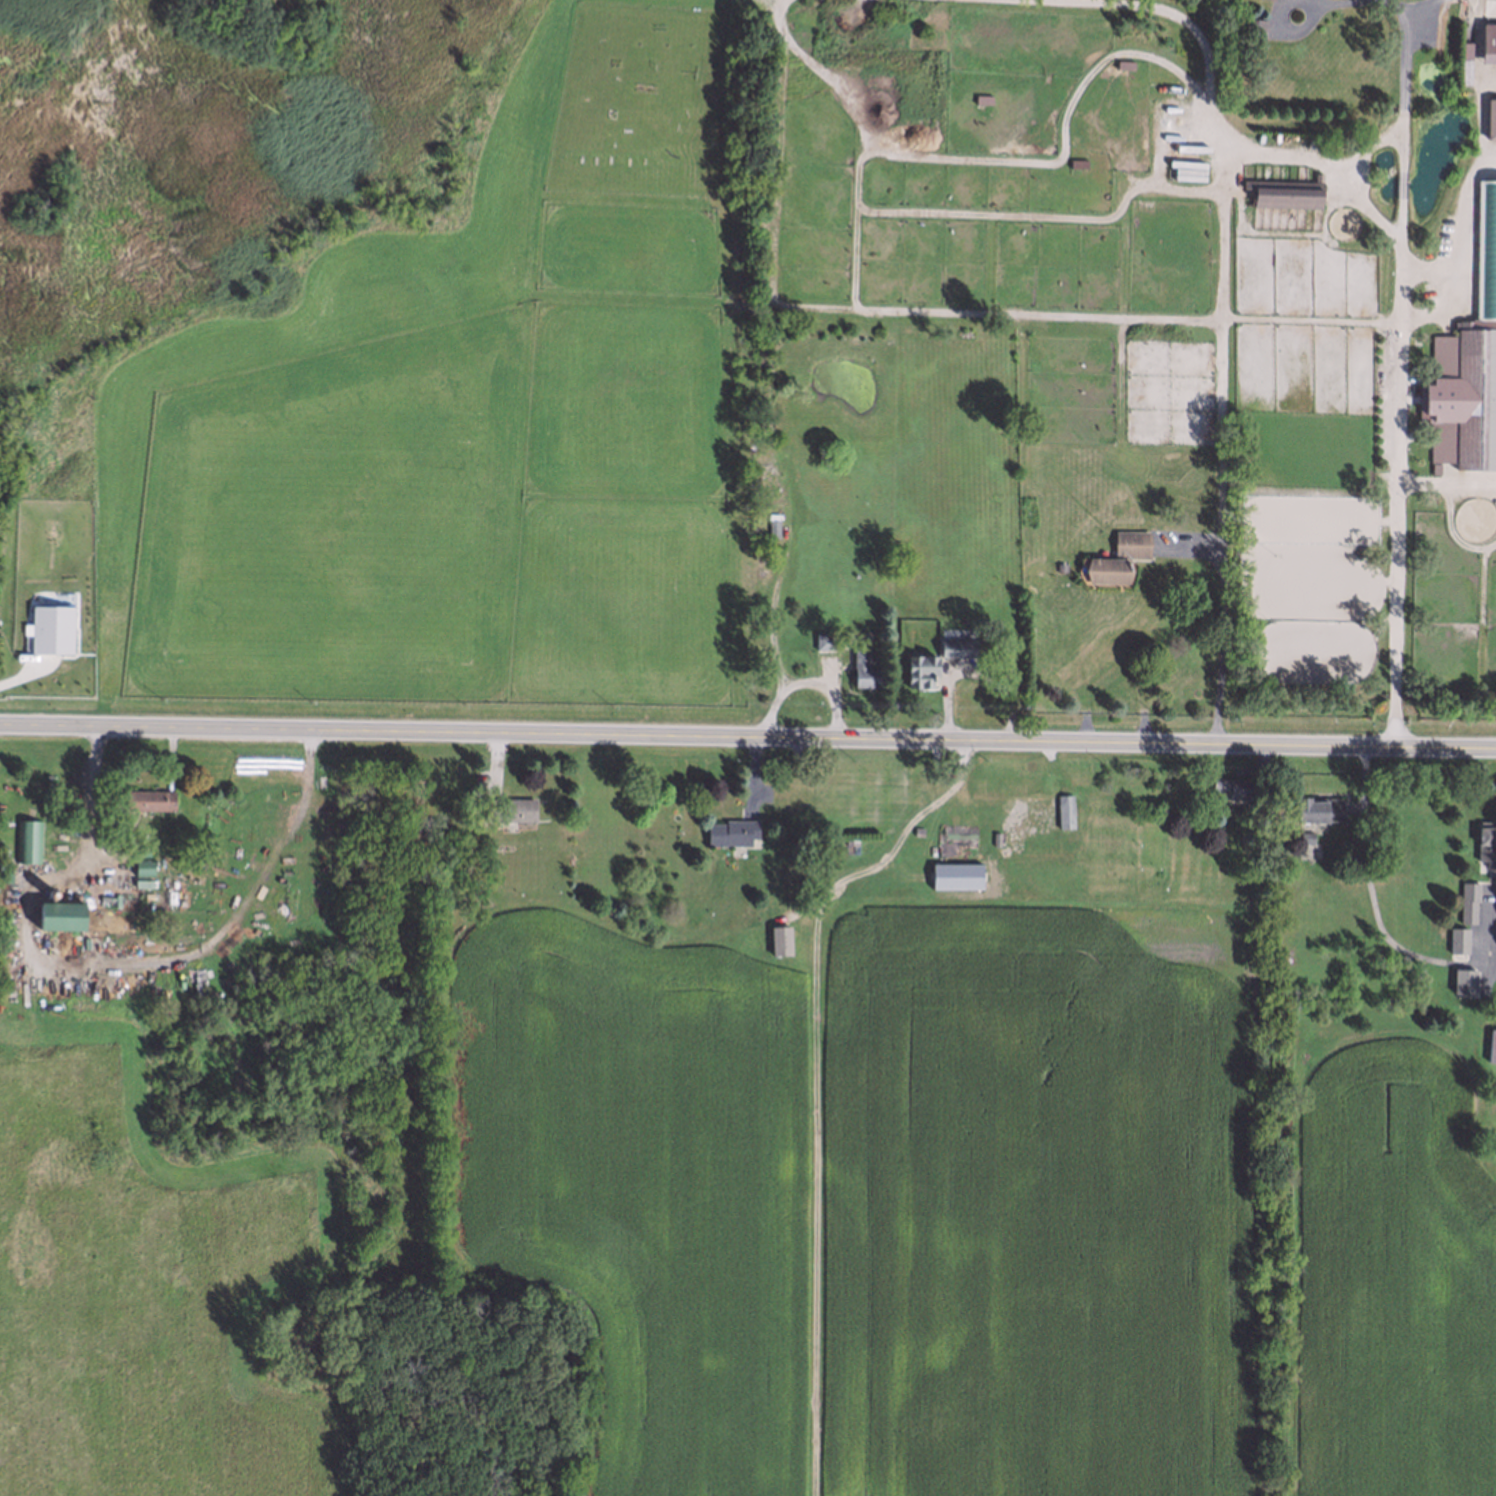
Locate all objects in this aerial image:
building: (1265, 0)
building: (1272, 0)
road: (1318, 1)
road: (1336, 1)
road: (1401, 4)
road: (1426, 4)
road: (1170, 6)
building: (1252, 28)
road: (1296, 29)
building: (1487, 44)
building: (1123, 66)
building: (1463, 72)
building: (981, 100)
road: (1068, 111)
building: (1490, 122)
road: (1228, 163)
building: (1284, 192)
building: (1142, 200)
road: (1364, 203)
road: (1114, 212)
road: (1461, 235)
road: (1443, 308)
road: (1175, 312)
building: (1470, 363)
road: (1398, 378)
road: (1446, 490)
building: (772, 527)
road: (1189, 541)
building: (1118, 556)
building: (1059, 565)
building: (53, 630)
building: (825, 640)
building: (956, 647)
building: (863, 669)
building: (919, 669)
road: (747, 739)
building: (1231, 790)
building: (151, 801)
building: (1323, 807)
building: (519, 810)
building: (1066, 812)
building: (734, 833)
building: (1486, 839)
building: (30, 842)
road: (899, 843)
building: (1309, 847)
building: (962, 848)
building: (145, 868)
building: (957, 876)
building: (144, 884)
building: (62, 916)
building: (1472, 930)
building: (781, 941)
road: (110, 965)
building: (1491, 1042)

